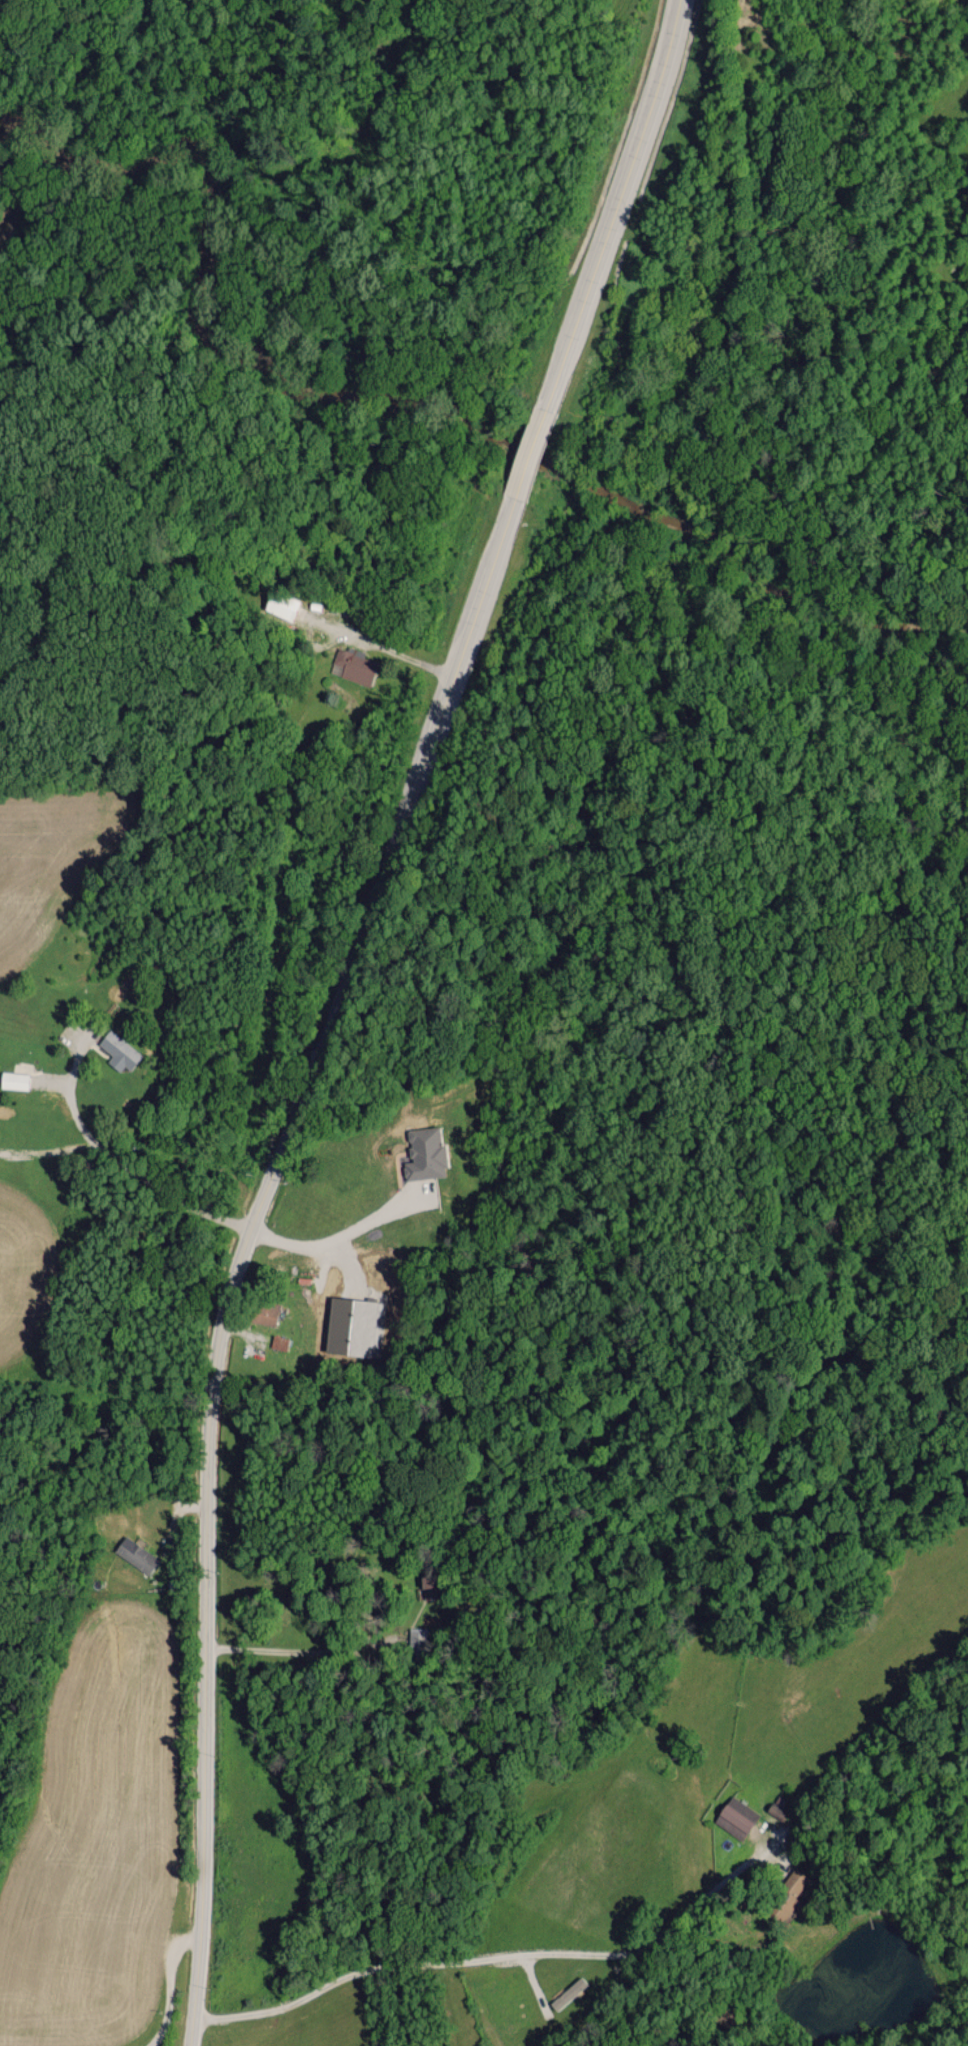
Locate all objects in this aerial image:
road: (380, 646)
building: (354, 665)
road: (345, 1007)
building: (118, 1050)
building: (13, 1079)
building: (424, 1153)
road: (120, 1162)
road: (334, 1239)
building: (264, 1311)
building: (279, 1341)
building: (135, 1554)
road: (292, 1649)
building: (778, 1807)
building: (736, 1817)
road: (498, 1953)
road: (169, 1984)
building: (567, 1993)

